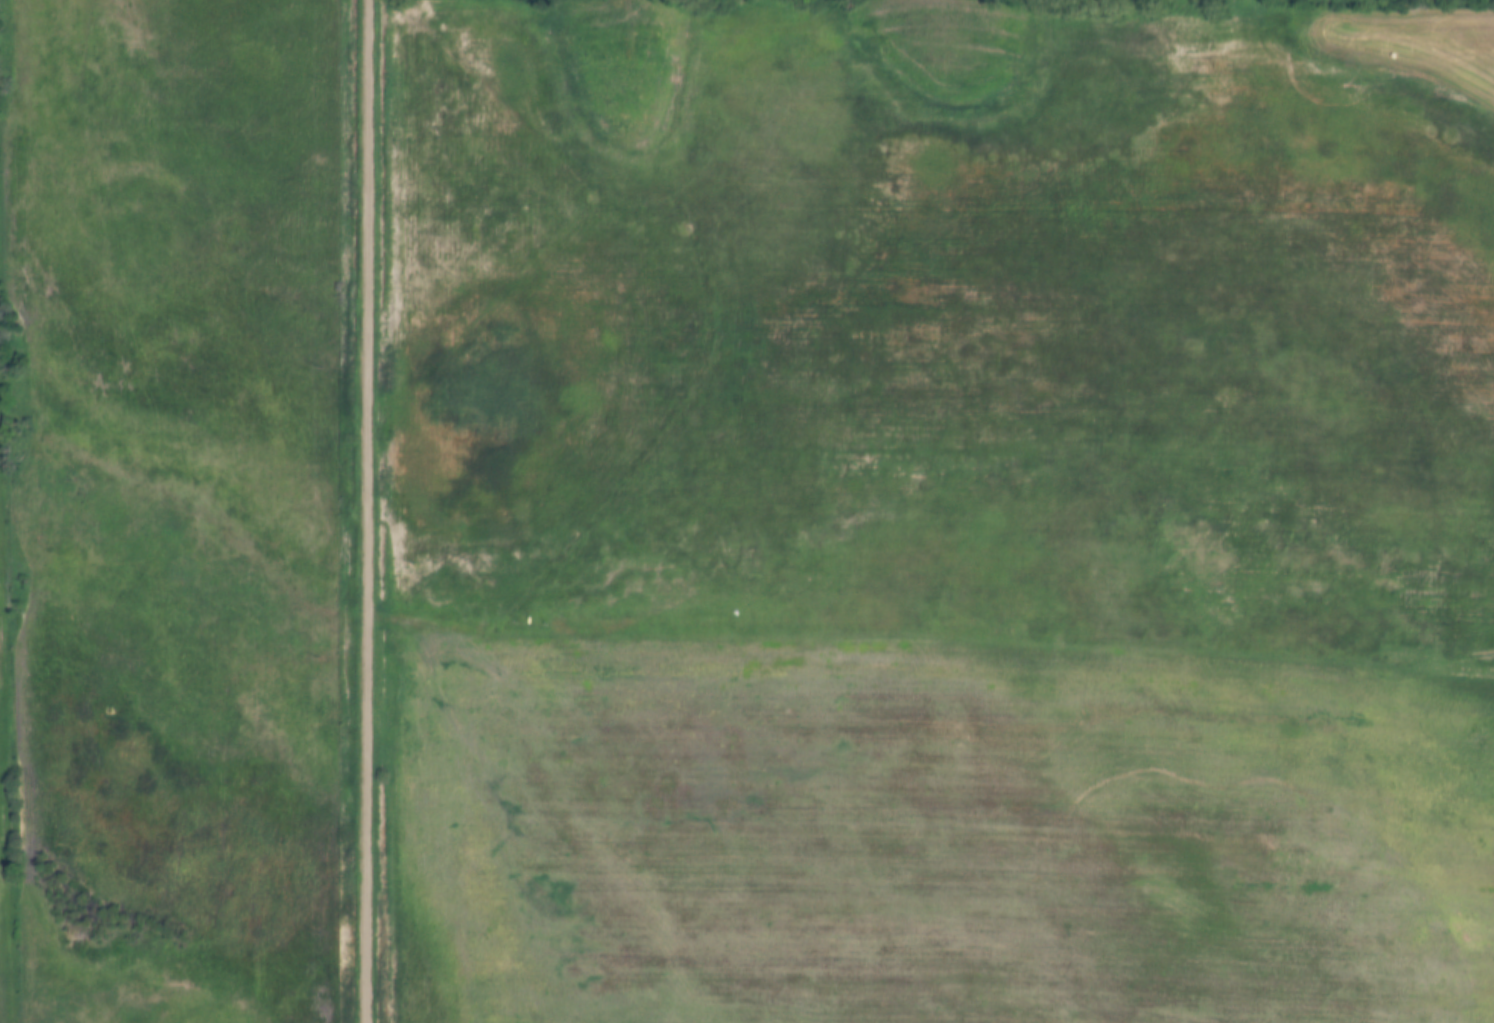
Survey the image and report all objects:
road: (364, 511)
road: (1, 808)

